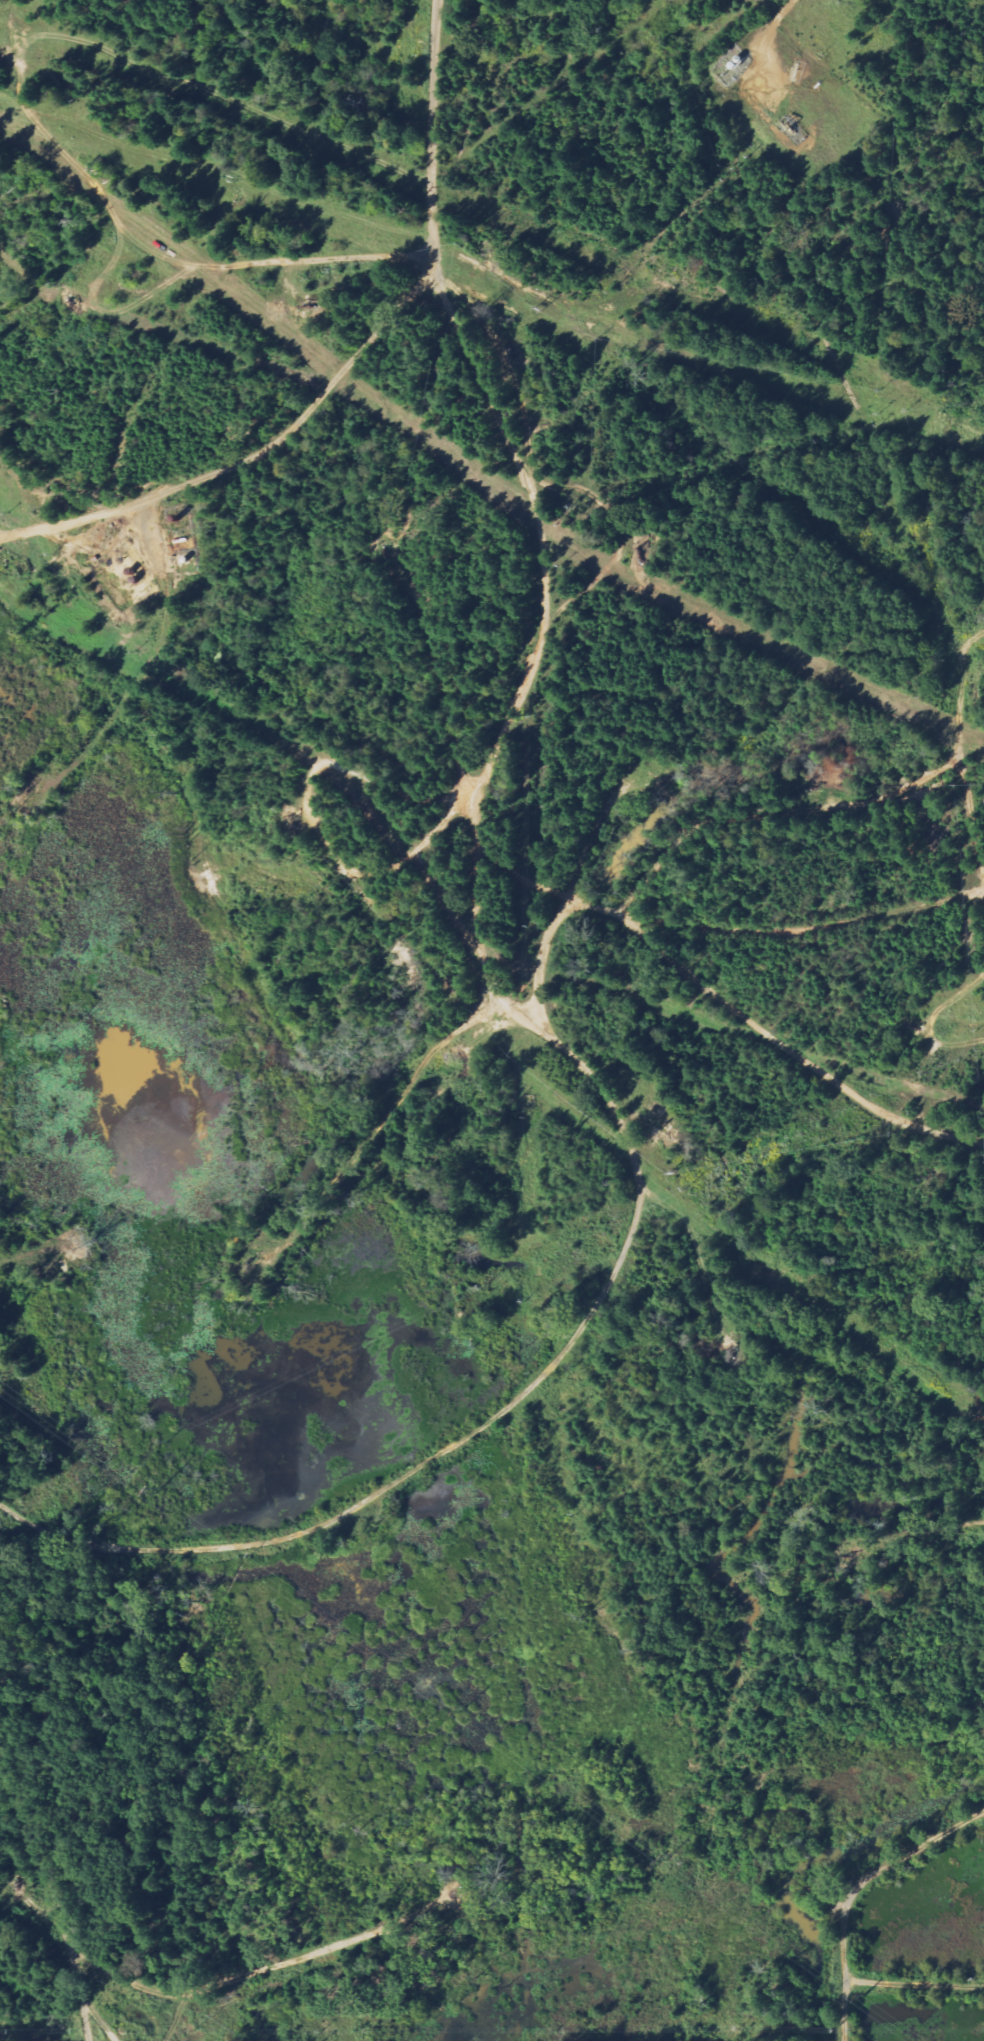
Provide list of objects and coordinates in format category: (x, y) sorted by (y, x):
road: (432, 128)
power tower: (154, 1488)
power tower: (452, 1704)
power tower: (668, 1857)
power tower: (857, 1999)

